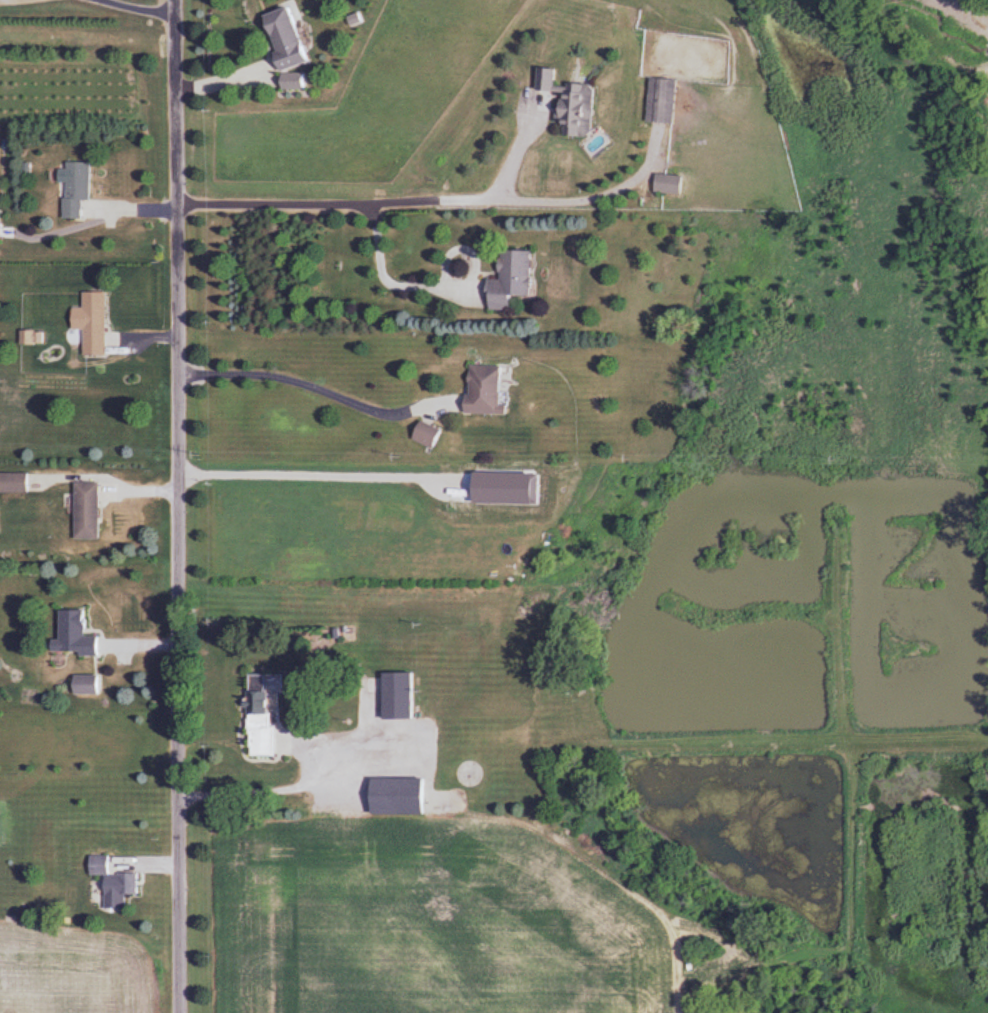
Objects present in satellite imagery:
building: (279, 37)
building: (289, 80)
building: (658, 100)
building: (564, 102)
building: (665, 183)
building: (73, 187)
road: (429, 199)
road: (377, 272)
building: (506, 279)
building: (89, 322)
road: (307, 384)
building: (479, 389)
building: (423, 434)
road: (175, 506)
building: (83, 510)
building: (70, 634)
building: (82, 684)
building: (394, 695)
building: (257, 717)
building: (394, 796)
building: (110, 881)

